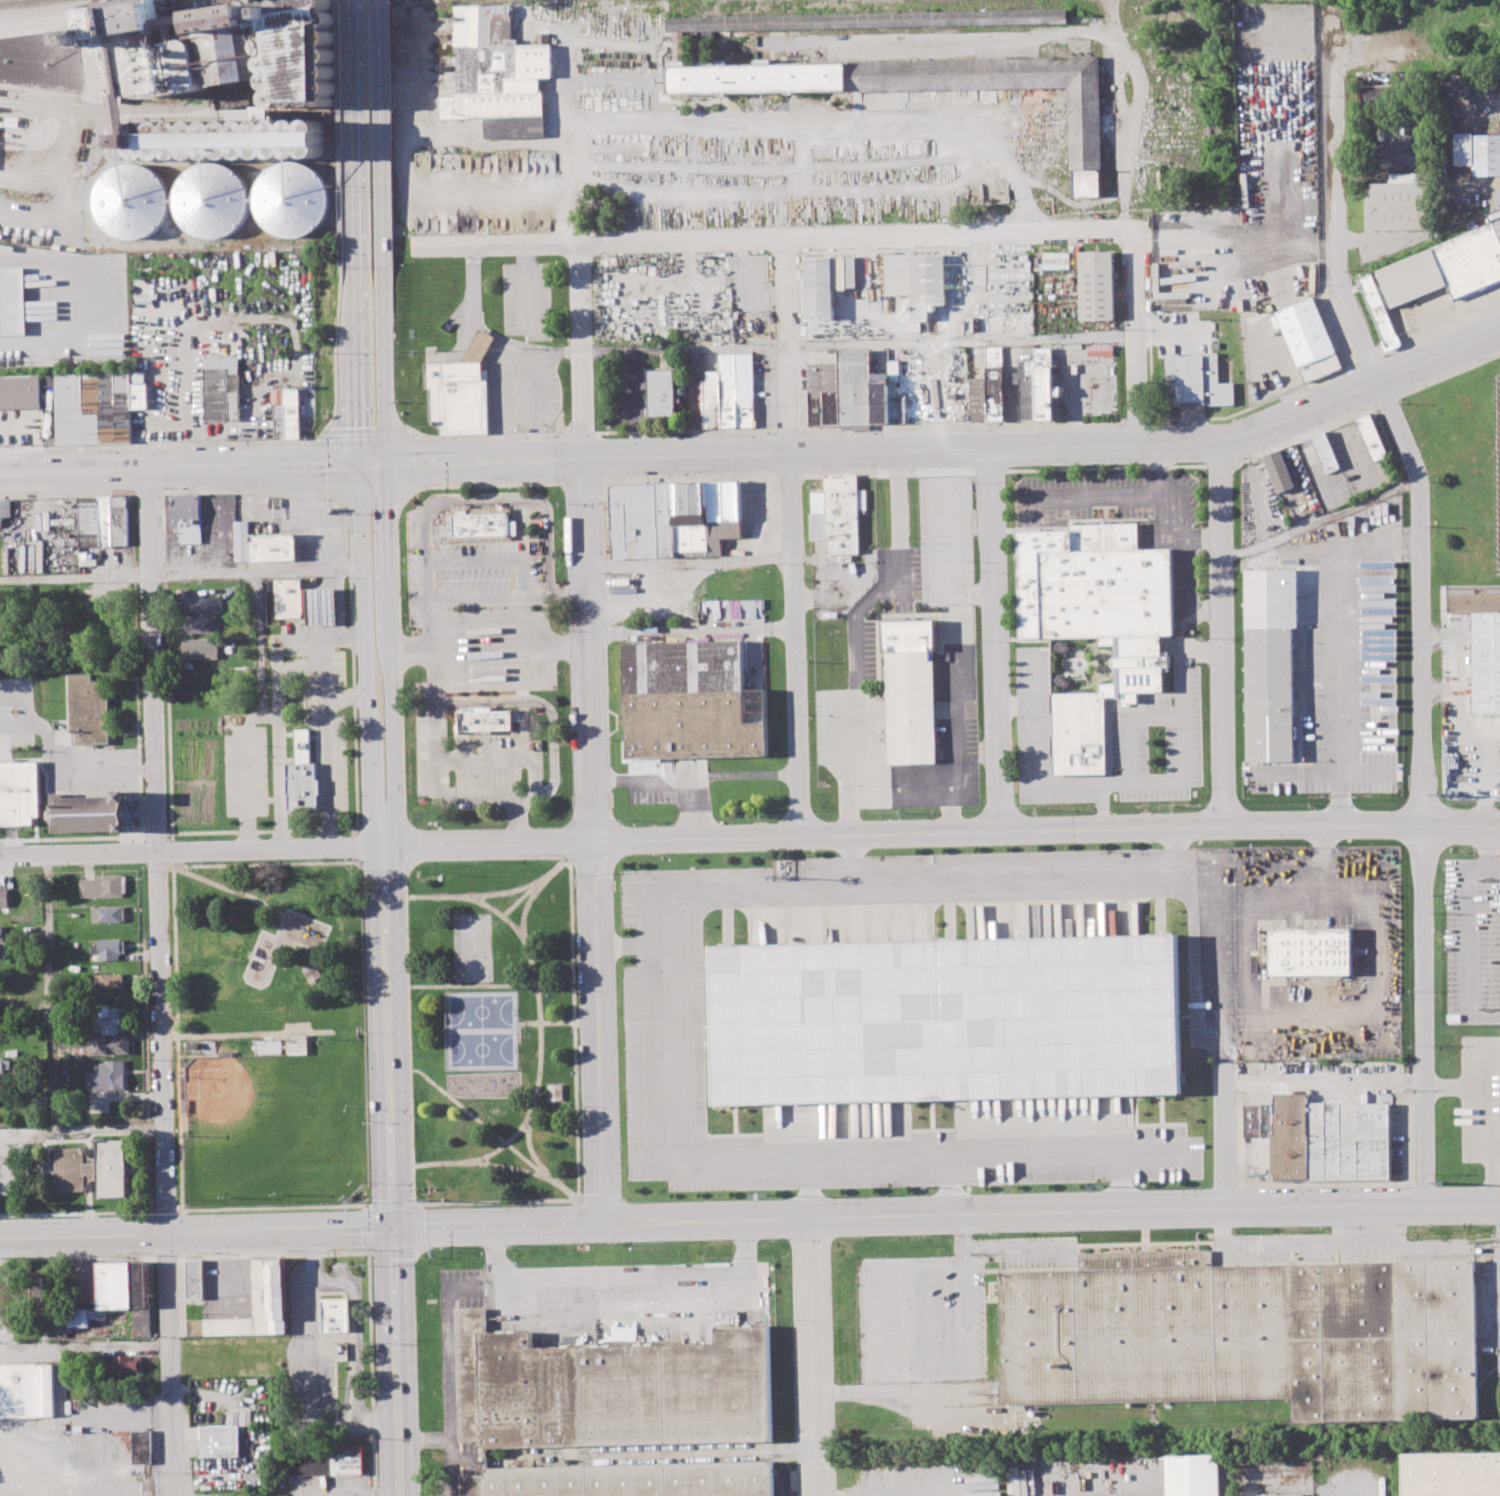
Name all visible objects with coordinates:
railway: (30, 4)
building: (865, 19)
building: (678, 48)
building: (1270, 52)
road: (1417, 59)
building: (497, 71)
building: (195, 73)
building: (755, 78)
building: (1378, 94)
road: (813, 117)
road: (341, 134)
road: (376, 134)
road: (353, 135)
building: (1484, 154)
building: (213, 201)
building: (294, 201)
building: (1401, 201)
building: (132, 203)
road: (569, 207)
building: (1497, 229)
road: (852, 235)
road: (488, 240)
building: (1055, 260)
building: (1446, 268)
building: (918, 279)
building: (826, 281)
road: (526, 283)
building: (1096, 284)
building: (12, 300)
building: (1378, 309)
road: (1439, 328)
road: (1133, 337)
road: (483, 340)
building: (1308, 340)
road: (858, 345)
road: (335, 356)
road: (1369, 357)
building: (1196, 381)
building: (1045, 383)
building: (994, 384)
building: (855, 386)
building: (222, 389)
building: (729, 389)
building: (746, 389)
building: (1027, 389)
building: (461, 391)
building: (20, 392)
building: (662, 394)
building: (824, 394)
building: (880, 397)
building: (712, 399)
building: (978, 399)
road: (1256, 403)
road: (1391, 410)
building: (286, 413)
road: (1135, 421)
road: (959, 426)
road: (787, 427)
road: (685, 430)
flagpole: (518, 431)
road: (579, 433)
road: (365, 435)
road: (489, 435)
building: (1371, 438)
road: (158, 444)
road: (760, 451)
building: (1325, 452)
road: (410, 463)
traffic signals: (384, 467)
traffic signals: (359, 468)
parking lot: (1497, 469)
building: (1280, 472)
street lamp: (430, 492)
street lamp: (507, 493)
street lamp: (439, 494)
road: (895, 497)
road: (1123, 497)
road: (544, 507)
building: (6, 508)
building: (0, 514)
building: (837, 515)
building: (705, 516)
building: (187, 517)
road: (1319, 519)
building: (120, 520)
building: (642, 520)
building: (89, 521)
building: (106, 521)
building: (481, 523)
road: (521, 529)
road: (795, 535)
parking lot: (42, 536)
road: (1202, 537)
building: (262, 545)
road: (1299, 551)
road: (386, 558)
road: (494, 558)
road: (361, 559)
road: (1184, 563)
road: (256, 570)
road: (75, 578)
road: (570, 596)
building: (289, 599)
building: (204, 605)
building: (321, 606)
road: (859, 611)
road: (520, 622)
building: (1096, 622)
building: (200, 624)
road: (431, 625)
building: (1, 626)
road: (1223, 632)
road: (993, 638)
building: (1482, 640)
road: (259, 644)
road: (489, 646)
road: (1340, 646)
building: (202, 648)
road: (399, 650)
building: (910, 692)
building: (1270, 694)
building: (690, 700)
road: (1012, 706)
building: (89, 710)
road: (270, 718)
building: (485, 720)
road: (553, 724)
road: (593, 729)
road: (325, 752)
road: (848, 761)
road: (279, 763)
parking lot: (245, 765)
road: (245, 775)
building: (302, 775)
road: (747, 777)
road: (672, 778)
road: (1127, 781)
road: (436, 784)
building: (19, 795)
road: (1100, 805)
building: (93, 814)
road: (1008, 830)
road: (404, 843)
road: (258, 849)
road: (851, 857)
road: (266, 863)
road: (383, 865)
road: (407, 870)
building: (103, 886)
road: (507, 891)
building: (4, 896)
road: (518, 899)
building: (108, 914)
road: (502, 915)
road: (1220, 931)
building: (1, 932)
parking lot: (1472, 941)
road: (636, 945)
park: (472, 946)
road: (322, 948)
building: (1, 950)
building: (109, 950)
road: (175, 951)
building: (1312, 952)
building: (312, 976)
building: (110, 982)
road: (159, 982)
road: (525, 987)
park: (481, 1011)
road: (1329, 1016)
road: (1423, 1016)
road: (49, 1019)
building: (946, 1020)
building: (111, 1021)
road: (548, 1021)
road: (675, 1025)
park: (492, 1031)
road: (255, 1034)
park: (269, 1036)
road: (310, 1041)
building: (110, 1045)
park: (481, 1049)
building: (2, 1064)
building: (108, 1077)
building: (554, 1093)
road: (1488, 1114)
road: (526, 1116)
building: (1253, 1119)
road: (108, 1128)
road: (524, 1129)
park: (270, 1130)
road: (492, 1133)
road: (1224, 1137)
building: (1331, 1138)
road: (528, 1142)
road: (486, 1159)
road: (510, 1166)
building: (95, 1168)
road: (391, 1171)
road: (1119, 1182)
road: (949, 1187)
road: (808, 1190)
road: (420, 1201)
road: (417, 1204)
road: (392, 1206)
road: (749, 1219)
traffic signals: (392, 1227)
road: (417, 1227)
road: (369, 1228)
road: (392, 1249)
road: (311, 1259)
building: (196, 1280)
building: (115, 1285)
building: (40, 1291)
building: (141, 1299)
building: (256, 1304)
building: (335, 1315)
building: (85, 1316)
building: (60, 1328)
road: (354, 1333)
building: (1248, 1335)
road: (84, 1344)
parking lot: (310, 1347)
road: (815, 1357)
building: (121, 1364)
road: (371, 1373)
building: (27, 1390)
building: (610, 1390)
road: (313, 1397)
road: (452, 1440)
building: (220, 1441)
railway: (1040, 1446)
building: (141, 1447)
railway: (777, 1457)
building: (325, 1461)
building: (1451, 1474)
building: (1193, 1475)
parking lot: (928, 1478)
building: (625, 1480)
road: (913, 1494)
building: (1281, 1495)

